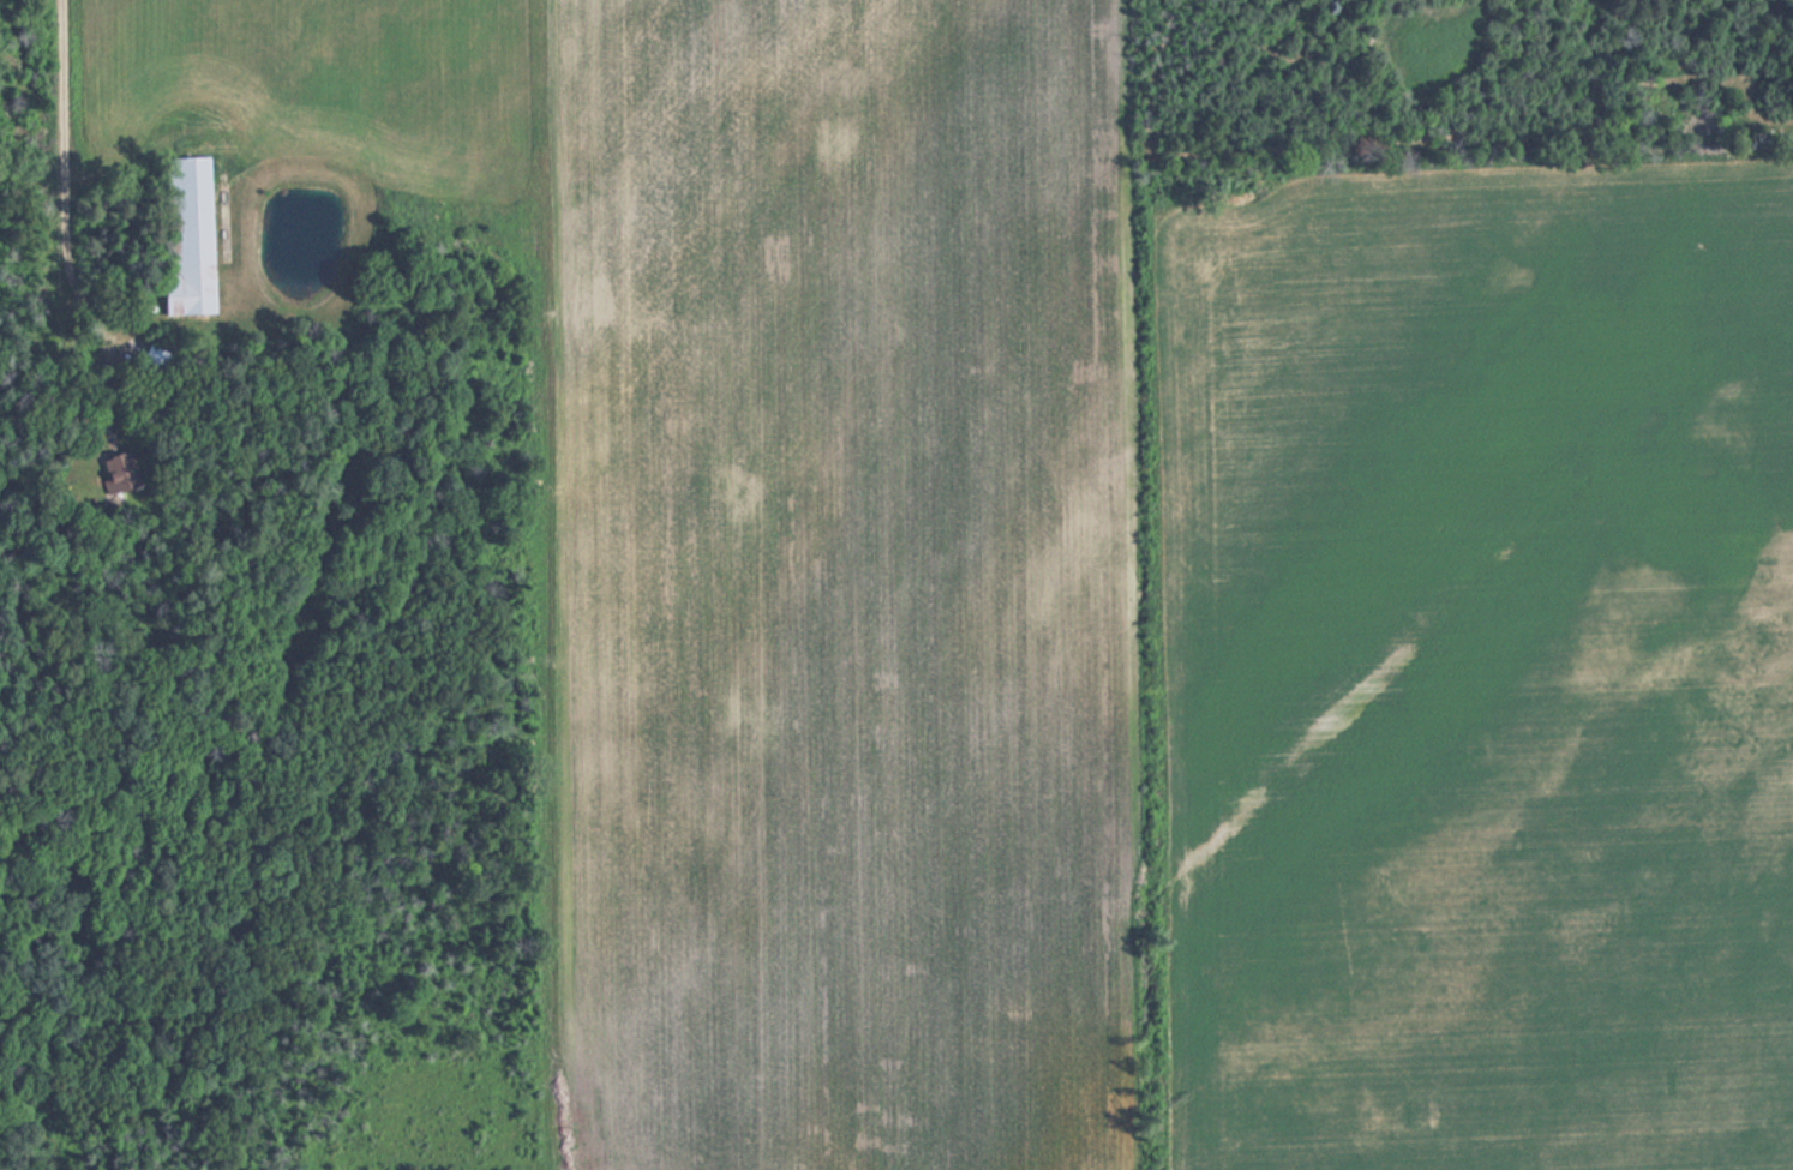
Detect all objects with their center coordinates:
building: (194, 236)
building: (128, 474)

